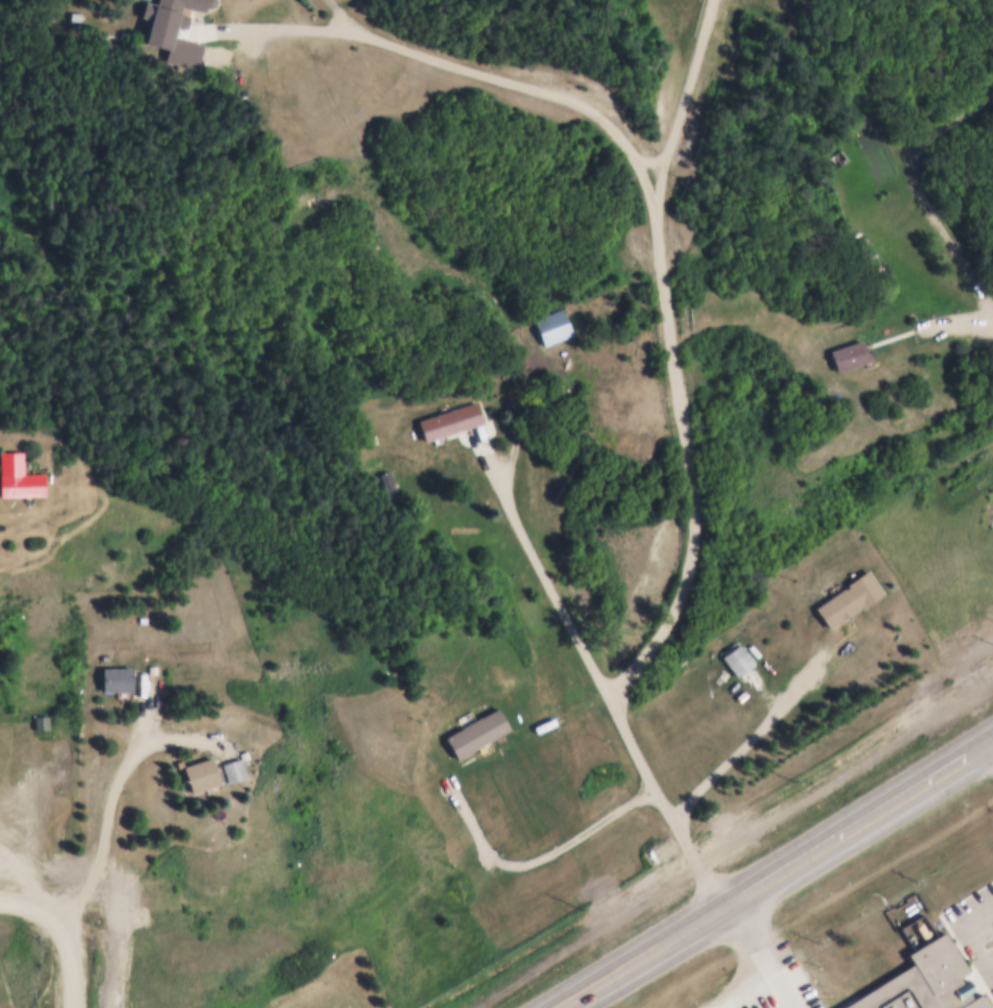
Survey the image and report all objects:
building: (183, 3)
building: (71, 14)
building: (170, 34)
building: (840, 154)
building: (837, 159)
road: (929, 189)
road: (654, 199)
road: (957, 320)
building: (556, 324)
building: (848, 352)
building: (451, 418)
building: (371, 439)
building: (16, 475)
building: (391, 484)
building: (987, 507)
building: (836, 605)
building: (738, 658)
building: (151, 667)
road: (599, 671)
building: (114, 677)
building: (40, 720)
road: (751, 738)
road: (980, 745)
building: (240, 753)
building: (230, 768)
building: (197, 772)
road: (117, 784)
road: (849, 825)
building: (474, 858)
road: (26, 868)
road: (34, 900)
road: (762, 952)
road: (639, 953)
road: (71, 955)
building: (325, 980)
building: (924, 981)

